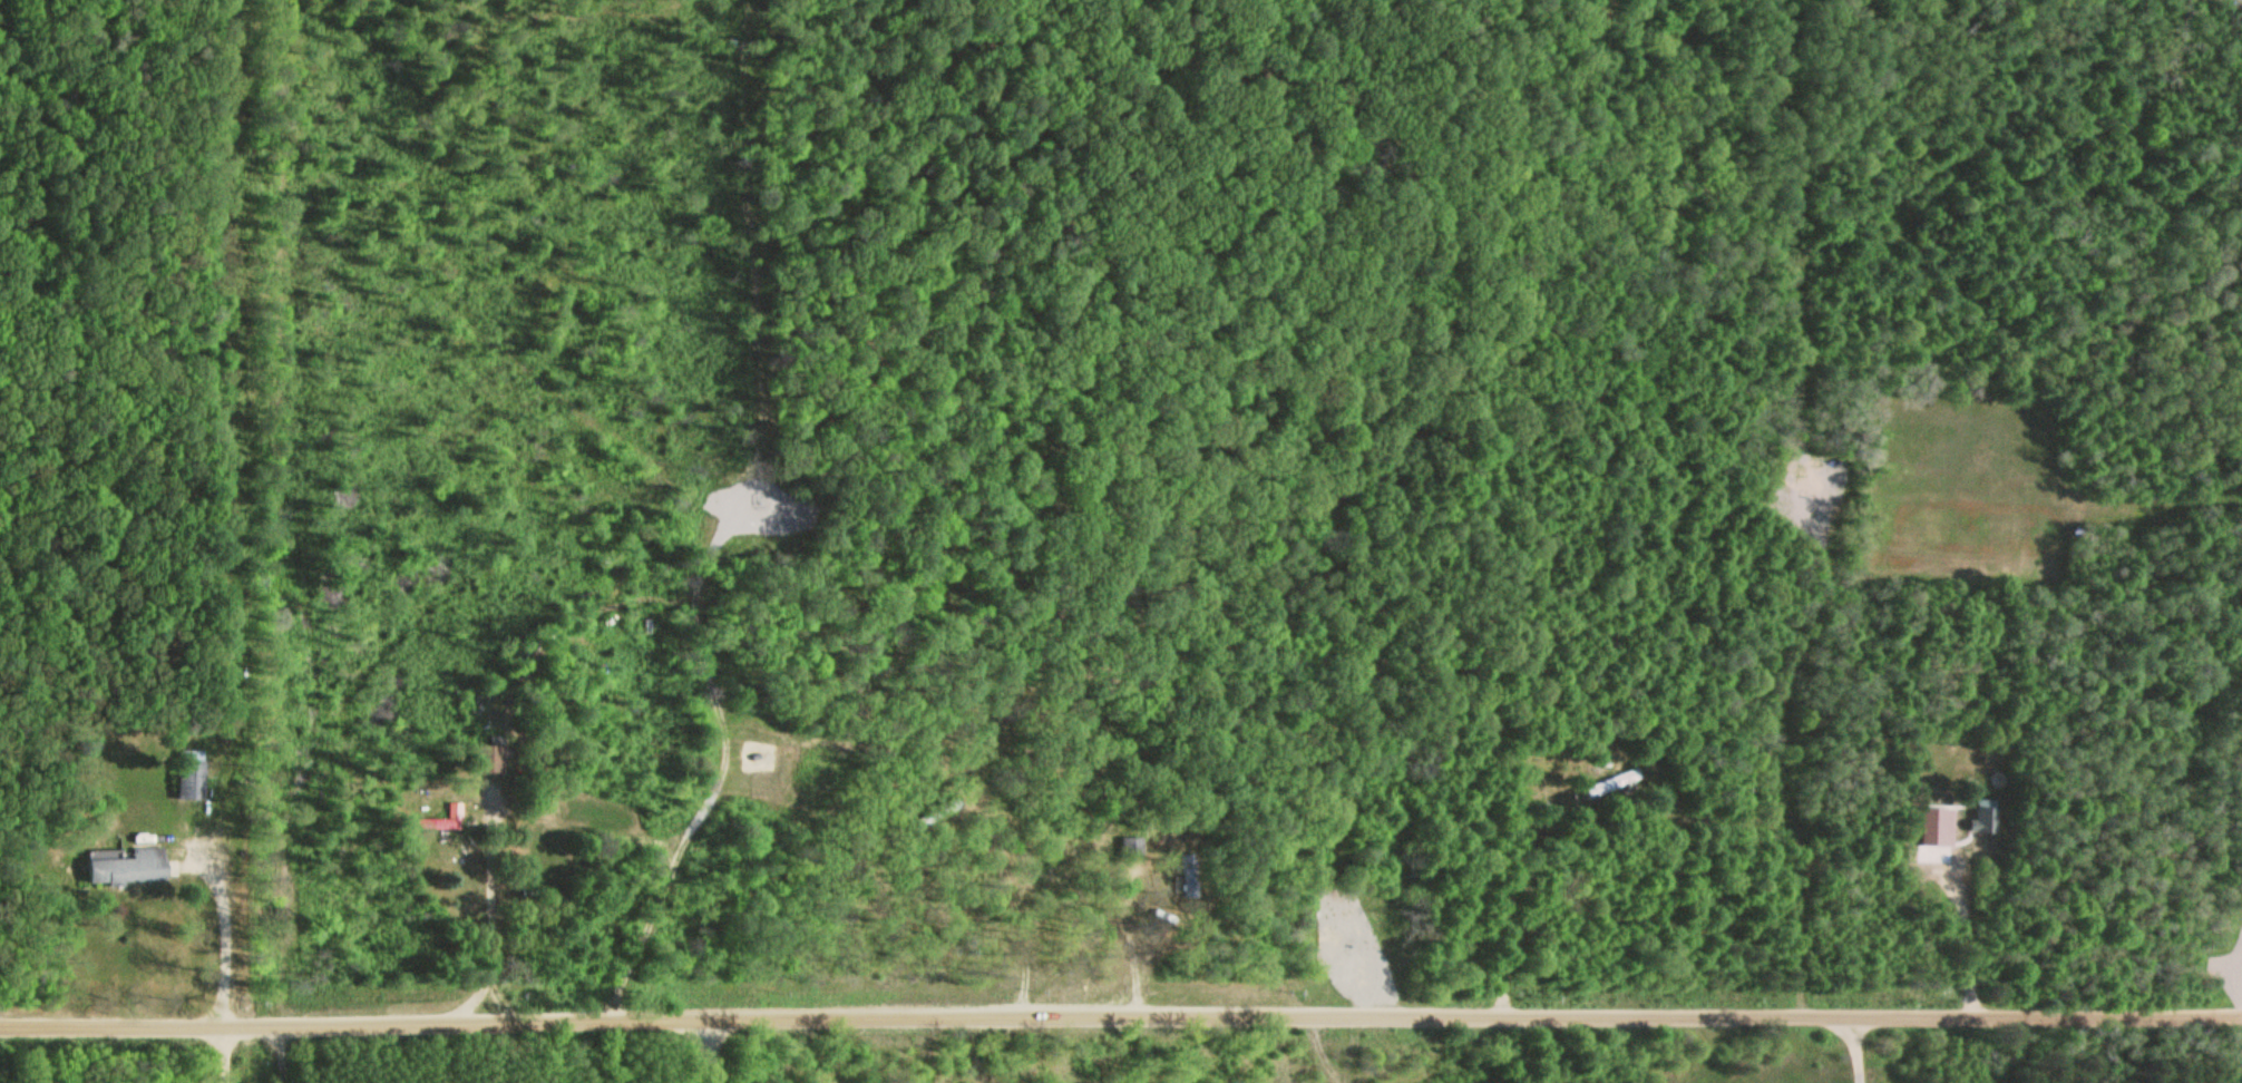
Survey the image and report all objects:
road: (722, 515)
road: (1790, 515)
building: (487, 760)
building: (188, 775)
building: (1981, 818)
building: (1128, 846)
building: (127, 868)
building: (1186, 877)
road: (1120, 1015)
road: (708, 1050)
road: (1325, 1052)
road: (1849, 1053)
road: (223, 1055)
road: (1319, 1076)

